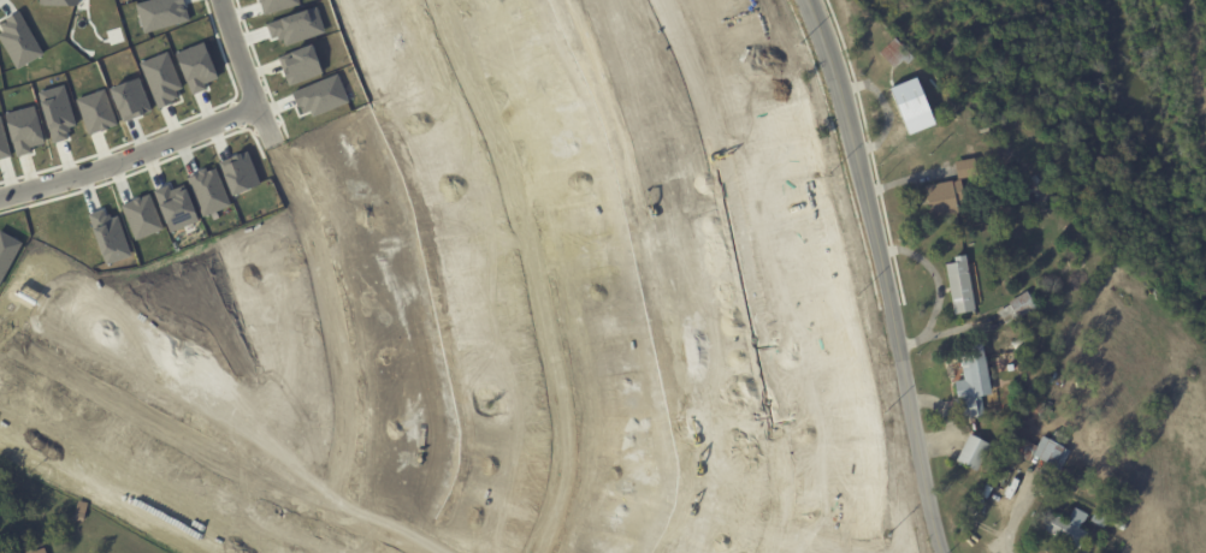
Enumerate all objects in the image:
building: (61, 2)
building: (277, 4)
building: (161, 13)
building: (297, 26)
building: (19, 40)
building: (894, 55)
building: (305, 64)
building: (197, 66)
road: (258, 73)
building: (162, 78)
building: (321, 95)
building: (918, 97)
building: (131, 99)
road: (885, 107)
building: (96, 111)
building: (58, 112)
building: (911, 112)
building: (25, 129)
building: (4, 141)
road: (135, 151)
building: (970, 153)
building: (1011, 166)
building: (964, 171)
building: (241, 172)
road: (906, 176)
building: (209, 191)
building: (944, 200)
building: (177, 207)
building: (143, 216)
building: (110, 236)
road: (879, 238)
building: (7, 251)
building: (964, 286)
road: (935, 289)
building: (1016, 310)
building: (1019, 345)
building: (1010, 377)
building: (971, 385)
building: (1028, 396)
road: (948, 426)
building: (1040, 451)
building: (973, 454)
building: (82, 511)
road: (1012, 516)
road: (908, 518)
building: (1118, 527)
building: (1065, 530)
building: (1105, 539)
building: (43, 551)

